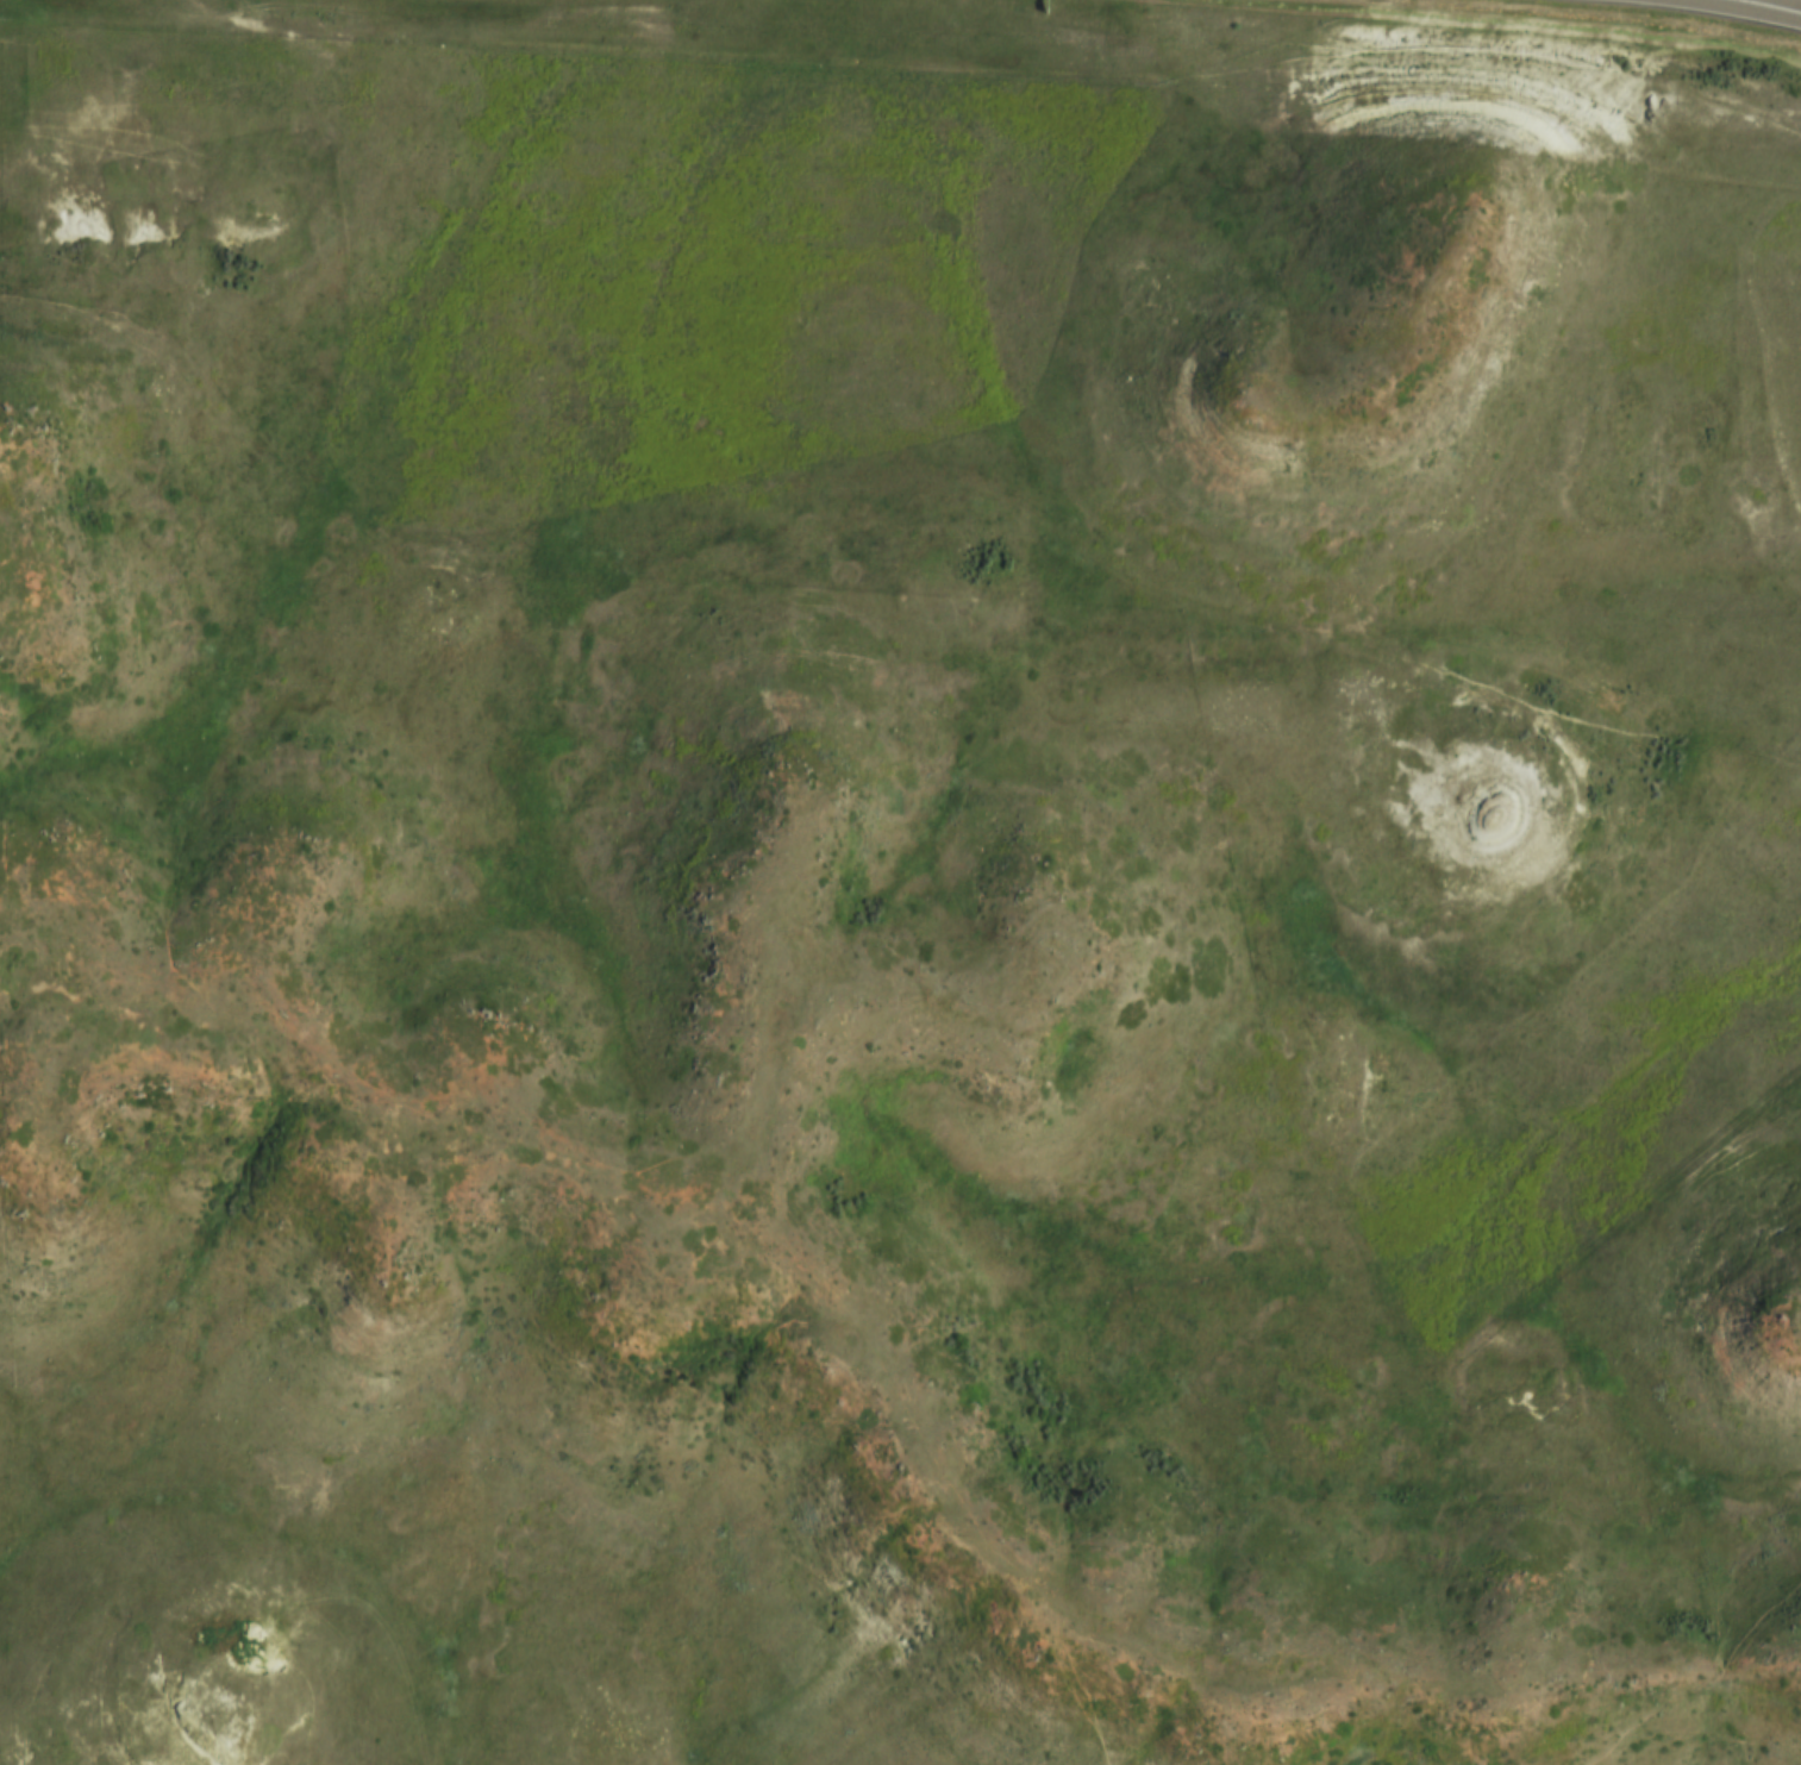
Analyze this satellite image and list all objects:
road: (1733, 13)

